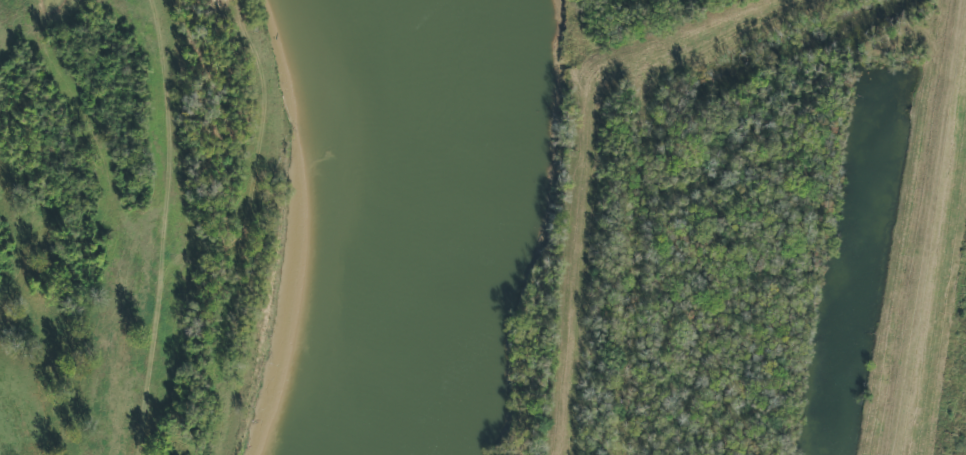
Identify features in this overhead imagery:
river: (379, 227)

